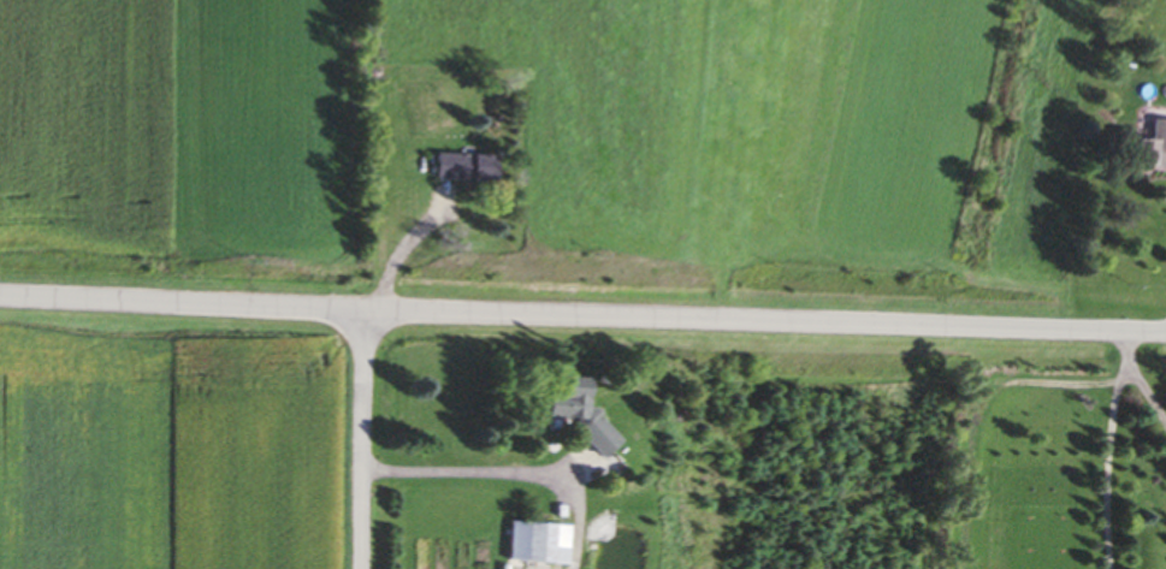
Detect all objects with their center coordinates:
building: (1146, 149)
building: (460, 167)
road: (582, 318)
road: (1138, 380)
building: (566, 413)
road: (362, 439)
road: (507, 476)
building: (532, 544)

